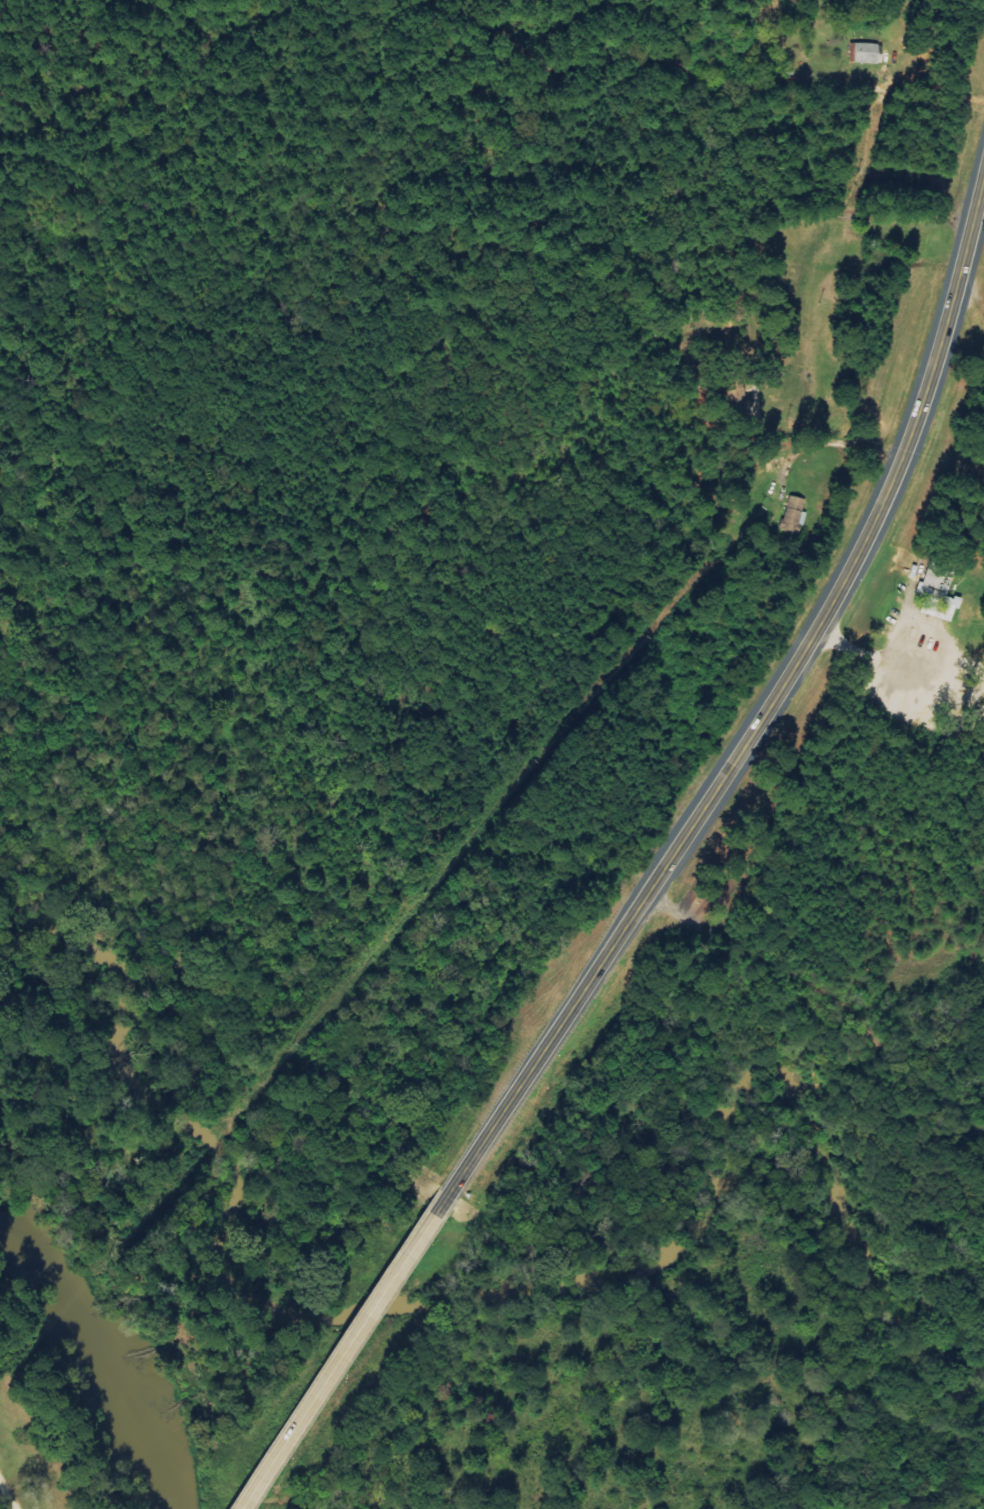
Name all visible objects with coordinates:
building: (866, 52)
road: (956, 425)
building: (792, 513)
building: (935, 597)
road: (754, 727)
road: (831, 991)
road: (334, 1362)
road: (6, 1496)

